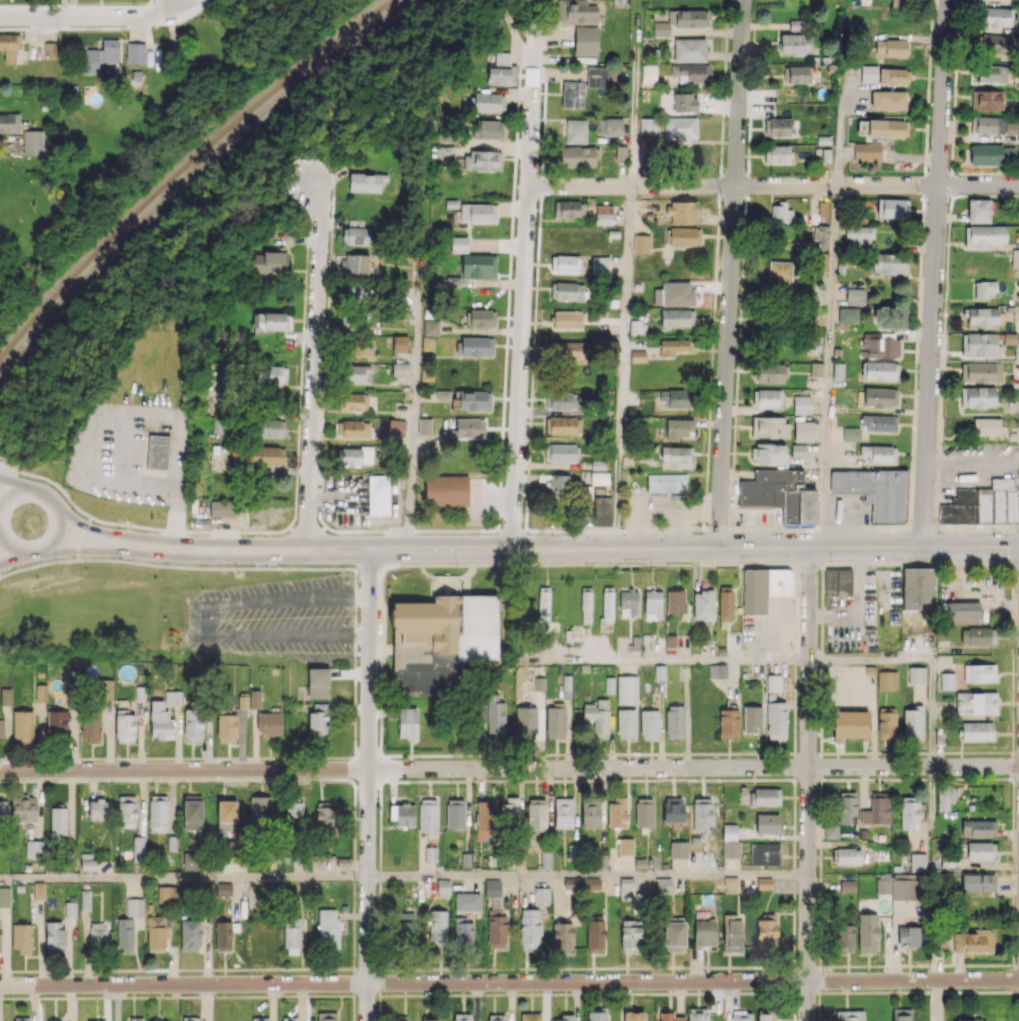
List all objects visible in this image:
building: (897, 3)
road: (174, 4)
road: (188, 4)
road: (64, 8)
building: (576, 12)
building: (996, 16)
road: (89, 17)
building: (680, 20)
building: (795, 25)
building: (585, 40)
building: (795, 43)
building: (996, 43)
building: (9, 46)
building: (890, 48)
building: (49, 49)
building: (689, 50)
building: (135, 53)
building: (98, 56)
building: (501, 70)
building: (691, 72)
building: (648, 73)
building: (992, 73)
building: (797, 74)
building: (868, 74)
building: (894, 76)
building: (596, 77)
building: (572, 94)
road: (634, 98)
building: (887, 100)
building: (987, 100)
building: (684, 101)
building: (489, 102)
road: (840, 105)
building: (9, 122)
building: (646, 125)
building: (987, 125)
building: (611, 127)
building: (777, 127)
building: (680, 128)
building: (886, 128)
building: (487, 129)
building: (575, 131)
building: (1018, 135)
building: (32, 142)
building: (866, 151)
building: (776, 154)
building: (990, 154)
building: (578, 156)
building: (482, 160)
railway: (185, 166)
railway: (193, 173)
building: (366, 182)
road: (978, 184)
road: (733, 186)
building: (823, 208)
building: (892, 208)
building: (569, 209)
building: (978, 210)
building: (682, 211)
building: (478, 212)
building: (780, 212)
building: (603, 214)
building: (356, 235)
building: (984, 235)
building: (684, 236)
building: (860, 236)
building: (821, 237)
building: (641, 243)
building: (459, 244)
building: (1015, 258)
building: (269, 261)
building: (819, 261)
building: (565, 263)
building: (354, 264)
building: (889, 264)
building: (477, 265)
building: (600, 265)
road: (934, 273)
road: (730, 274)
building: (779, 275)
road: (524, 285)
building: (985, 289)
building: (567, 290)
building: (357, 293)
building: (673, 294)
building: (855, 296)
building: (848, 315)
building: (981, 316)
building: (677, 317)
building: (890, 317)
building: (481, 318)
building: (566, 319)
building: (271, 321)
building: (430, 327)
building: (637, 327)
building: (399, 344)
building: (980, 345)
building: (361, 346)
building: (474, 346)
building: (672, 346)
building: (569, 350)
building: (637, 355)
road: (314, 358)
road: (828, 366)
road: (622, 367)
building: (399, 369)
building: (816, 369)
building: (880, 370)
building: (980, 372)
building: (356, 373)
building: (771, 373)
building: (271, 374)
building: (977, 397)
building: (676, 398)
building: (767, 398)
building: (474, 400)
building: (354, 401)
building: (561, 401)
building: (801, 404)
road: (415, 420)
building: (879, 422)
building: (563, 425)
building: (424, 426)
building: (986, 426)
building: (271, 427)
building: (396, 427)
building: (470, 427)
building: (679, 427)
building: (769, 427)
building: (353, 429)
building: (803, 431)
building: (851, 434)
road: (96, 440)
building: (798, 450)
building: (157, 451)
building: (561, 452)
building: (769, 453)
building: (878, 453)
building: (267, 455)
building: (356, 456)
building: (676, 456)
road: (973, 457)
road: (11, 474)
building: (599, 478)
road: (10, 480)
road: (46, 482)
building: (554, 482)
building: (666, 482)
building: (446, 490)
building: (875, 491)
building: (780, 493)
building: (378, 495)
building: (997, 501)
building: (959, 507)
building: (222, 508)
road: (101, 525)
road: (60, 526)
road: (96, 546)
road: (15, 547)
road: (38, 547)
road: (583, 549)
road: (10, 552)
road: (88, 553)
road: (50, 557)
road: (137, 557)
road: (980, 562)
road: (1015, 562)
road: (12, 563)
road: (204, 563)
road: (705, 563)
road: (807, 563)
road: (877, 563)
road: (941, 563)
road: (294, 564)
road: (432, 564)
road: (509, 564)
road: (548, 564)
road: (569, 564)
road: (592, 564)
road: (611, 564)
road: (369, 565)
road: (1012, 566)
road: (1012, 575)
building: (778, 582)
building: (838, 582)
building: (917, 587)
building: (754, 591)
building: (675, 601)
road: (1012, 601)
building: (628, 602)
building: (724, 603)
building: (543, 604)
building: (703, 604)
building: (585, 605)
building: (606, 605)
building: (652, 605)
road: (380, 611)
building: (963, 612)
road: (821, 615)
road: (355, 634)
building: (977, 636)
road: (1013, 638)
building: (440, 639)
road: (921, 656)
road: (795, 658)
road: (671, 661)
building: (717, 671)
building: (979, 672)
building: (916, 675)
building: (887, 680)
building: (947, 681)
building: (317, 683)
building: (773, 683)
building: (103, 689)
building: (626, 690)
building: (41, 693)
building: (5, 696)
building: (172, 698)
road: (821, 698)
building: (254, 699)
building: (243, 701)
building: (976, 703)
road: (1012, 703)
road: (381, 705)
road: (355, 709)
building: (495, 713)
building: (597, 717)
building: (318, 719)
building: (752, 719)
building: (160, 720)
building: (776, 720)
building: (526, 721)
building: (555, 721)
building: (674, 721)
building: (57, 722)
building: (886, 722)
building: (913, 722)
building: (269, 723)
building: (407, 723)
building: (626, 723)
building: (728, 723)
building: (22, 724)
building: (193, 724)
building: (649, 724)
building: (90, 725)
building: (849, 725)
building: (125, 728)
building: (226, 728)
building: (976, 731)
road: (355, 736)
road: (820, 742)
road: (1015, 750)
road: (790, 752)
road: (883, 752)
road: (963, 752)
road: (584, 753)
road: (606, 753)
road: (633, 753)
road: (683, 753)
road: (729, 753)
road: (752, 753)
road: (772, 753)
road: (836, 753)
road: (427, 754)
road: (511, 754)
road: (558, 754)
road: (795, 765)
road: (819, 765)
road: (1013, 765)
road: (356, 766)
road: (509, 769)
road: (634, 779)
road: (658, 779)
road: (731, 779)
road: (858, 779)
road: (904, 779)
road: (921, 779)
road: (940, 779)
road: (982, 779)
road: (404, 780)
road: (423, 780)
road: (470, 780)
road: (511, 780)
road: (548, 780)
road: (588, 780)
road: (602, 780)
road: (615, 780)
road: (388, 781)
road: (368, 782)
road: (808, 784)
road: (820, 787)
road: (354, 793)
building: (766, 796)
building: (945, 797)
road: (380, 799)
building: (846, 807)
road: (819, 808)
building: (3, 809)
building: (23, 809)
building: (98, 809)
building: (509, 809)
building: (672, 809)
building: (877, 809)
building: (260, 810)
building: (294, 810)
building: (126, 811)
building: (563, 812)
building: (590, 812)
building: (617, 812)
building: (644, 812)
building: (909, 812)
building: (158, 813)
building: (455, 813)
building: (702, 813)
building: (192, 814)
building: (402, 814)
building: (226, 815)
building: (484, 815)
building: (536, 815)
building: (325, 817)
building: (427, 817)
road: (354, 820)
building: (58, 822)
road: (1012, 822)
building: (767, 823)
building: (978, 828)
building: (831, 831)
road: (793, 840)
building: (730, 842)
building: (625, 846)
building: (33, 849)
building: (138, 849)
building: (678, 849)
building: (980, 851)
building: (764, 854)
road: (819, 855)
building: (846, 855)
building: (546, 859)
road: (380, 860)
building: (189, 861)
building: (917, 862)
road: (587, 876)
road: (183, 878)
building: (977, 882)
building: (764, 883)
building: (730, 884)
road: (1013, 884)
building: (847, 885)
building: (882, 886)
building: (443, 888)
building: (492, 888)
building: (223, 889)
building: (904, 889)
building: (39, 890)
building: (632, 892)
building: (166, 893)
building: (5, 896)
building: (541, 896)
building: (85, 900)
road: (354, 901)
building: (467, 901)
building: (134, 907)
road: (794, 907)
building: (70, 910)
building: (403, 924)
building: (437, 926)
road: (820, 927)
building: (328, 928)
building: (496, 928)
building: (530, 929)
road: (1013, 929)
building: (462, 930)
road: (793, 931)
building: (704, 932)
building: (766, 932)
building: (867, 932)
building: (156, 933)
building: (125, 934)
building: (225, 934)
building: (732, 934)
building: (97, 935)
building: (189, 935)
building: (562, 935)
building: (630, 935)
building: (674, 935)
building: (54, 936)
building: (292, 936)
building: (908, 936)
building: (21, 937)
road: (379, 937)
building: (844, 937)
building: (973, 941)
road: (793, 958)
road: (1013, 960)
road: (890, 964)
road: (981, 965)
road: (1008, 965)
road: (700, 966)
road: (762, 966)
road: (612, 967)
road: (655, 967)
road: (457, 968)
road: (496, 968)
road: (552, 968)
road: (385, 969)
road: (410, 969)
road: (437, 969)
road: (1016, 969)
road: (818, 979)
road: (353, 982)
road: (509, 982)
road: (888, 991)
road: (966, 991)
road: (996, 991)
road: (691, 992)
road: (773, 992)
road: (605, 993)
road: (366, 994)
road: (403, 994)
road: (436, 994)
road: (513, 994)
road: (793, 1002)
road: (818, 1006)
road: (353, 1008)
road: (379, 1008)
building: (698, 1014)
building: (901, 1014)
building: (849, 1015)
building: (327, 1016)
building: (530, 1016)
building: (596, 1016)
building: (633, 1016)
building: (741, 1016)
road: (794, 1016)
building: (462, 1017)
building: (496, 1017)
building: (669, 1017)
building: (765, 1017)
building: (191, 1018)
building: (563, 1018)
building: (21, 1019)
building: (135, 1019)
building: (154, 1019)
building: (259, 1019)
building: (289, 1019)
building: (50, 1020)
building: (91, 1020)
building: (400, 1020)
building: (429, 1020)
road: (818, 1020)
building: (981, 1020)

